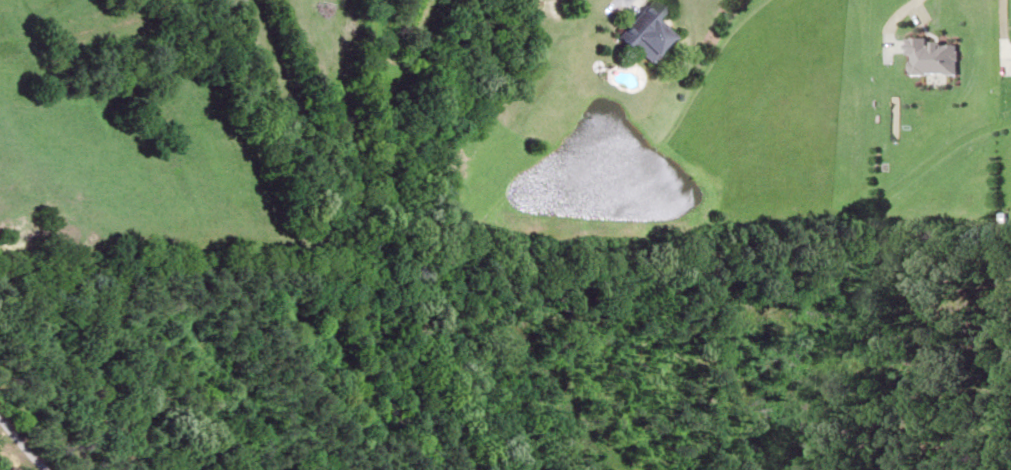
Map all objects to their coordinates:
building: (644, 34)
building: (931, 56)

